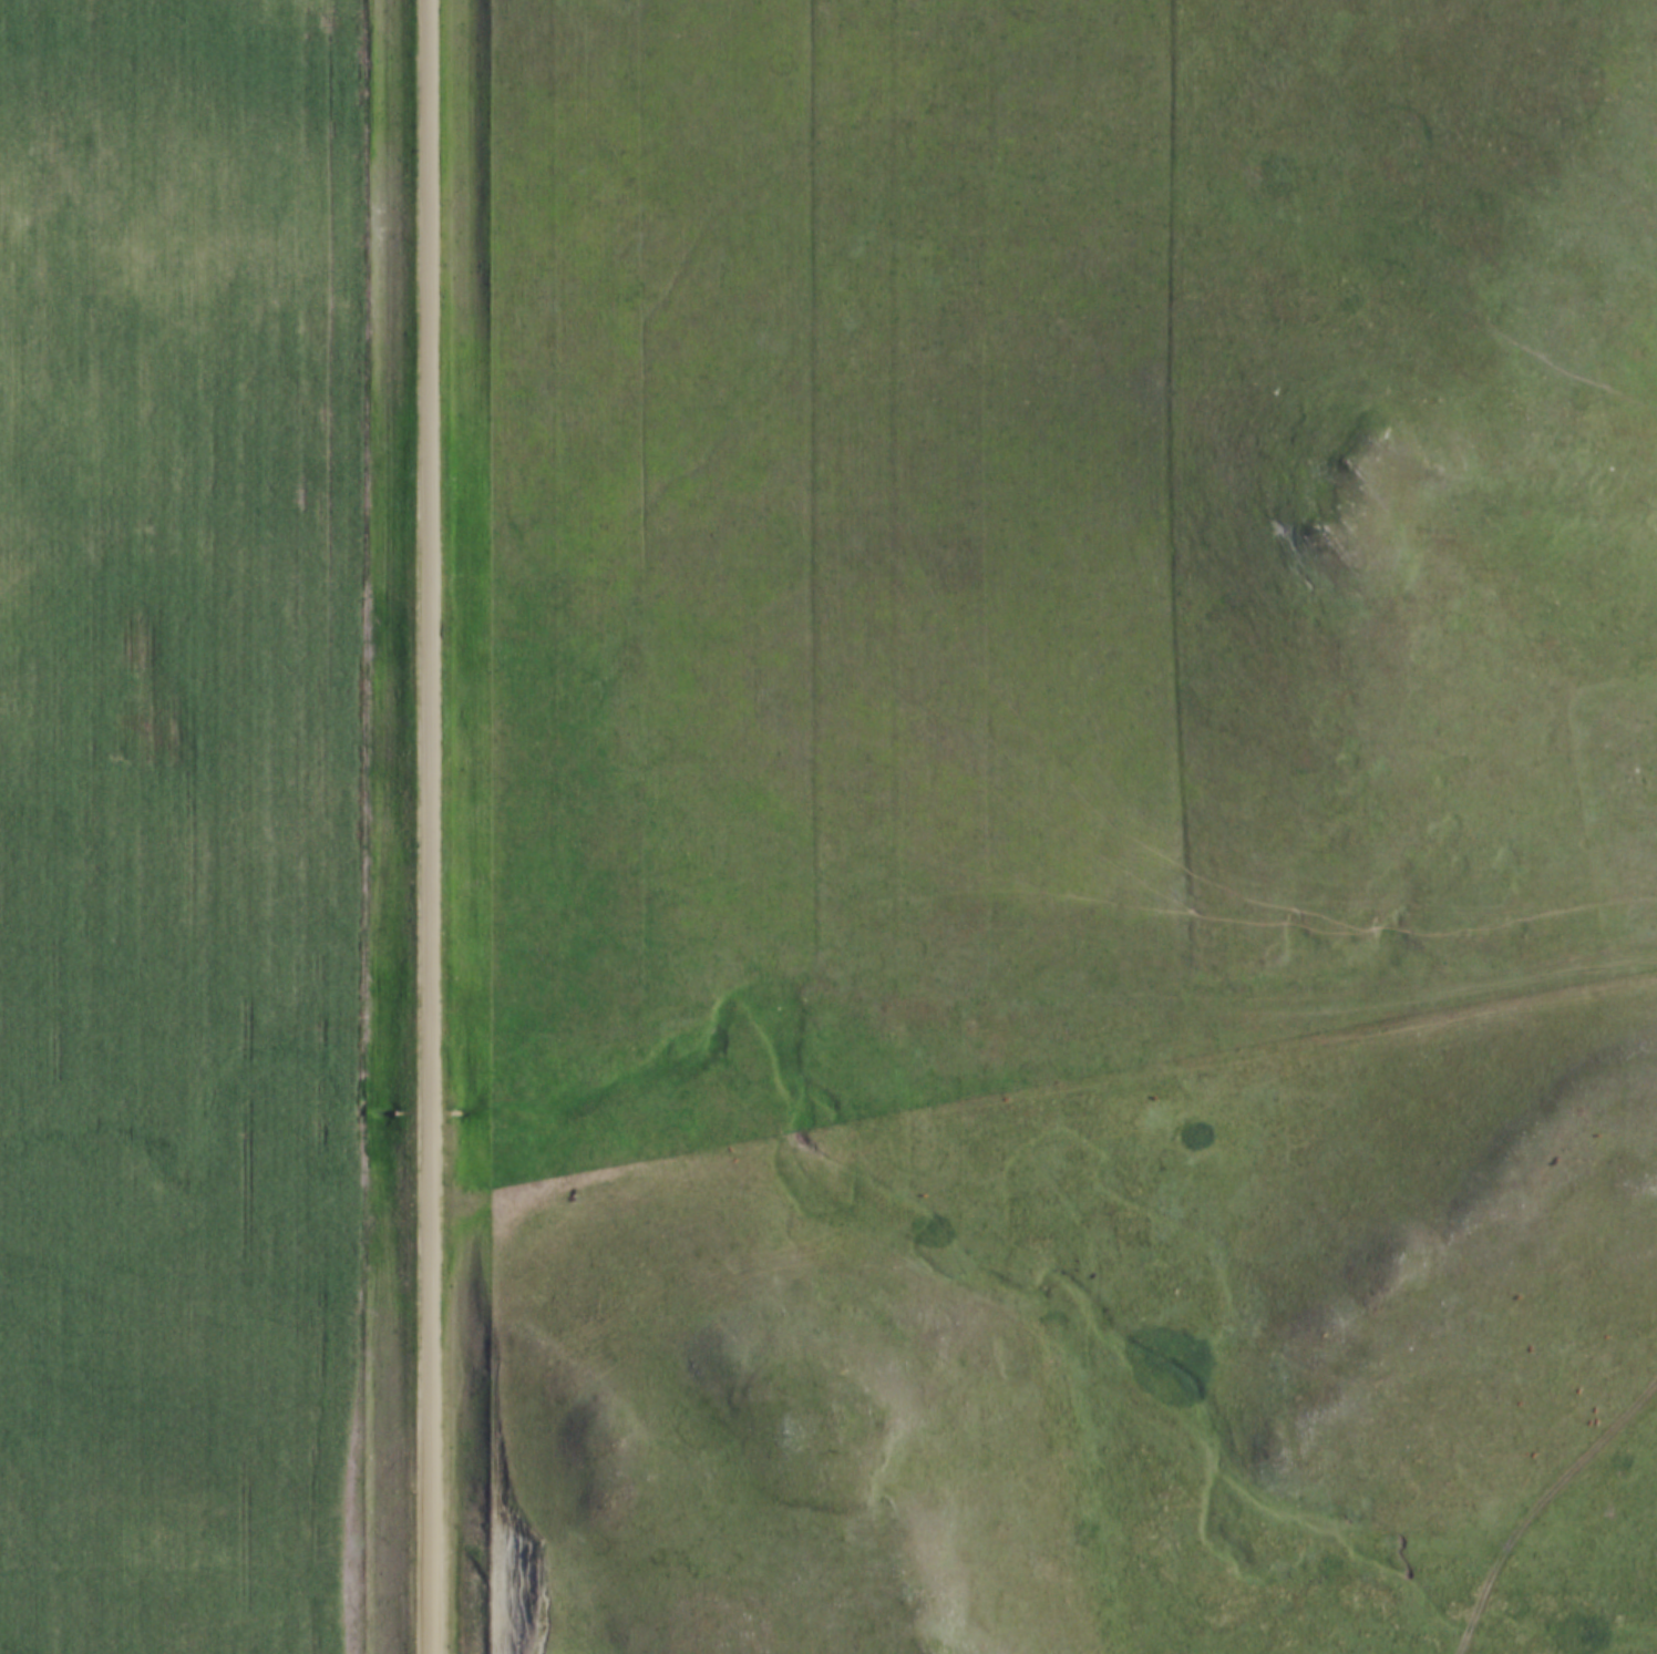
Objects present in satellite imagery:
road: (433, 826)

